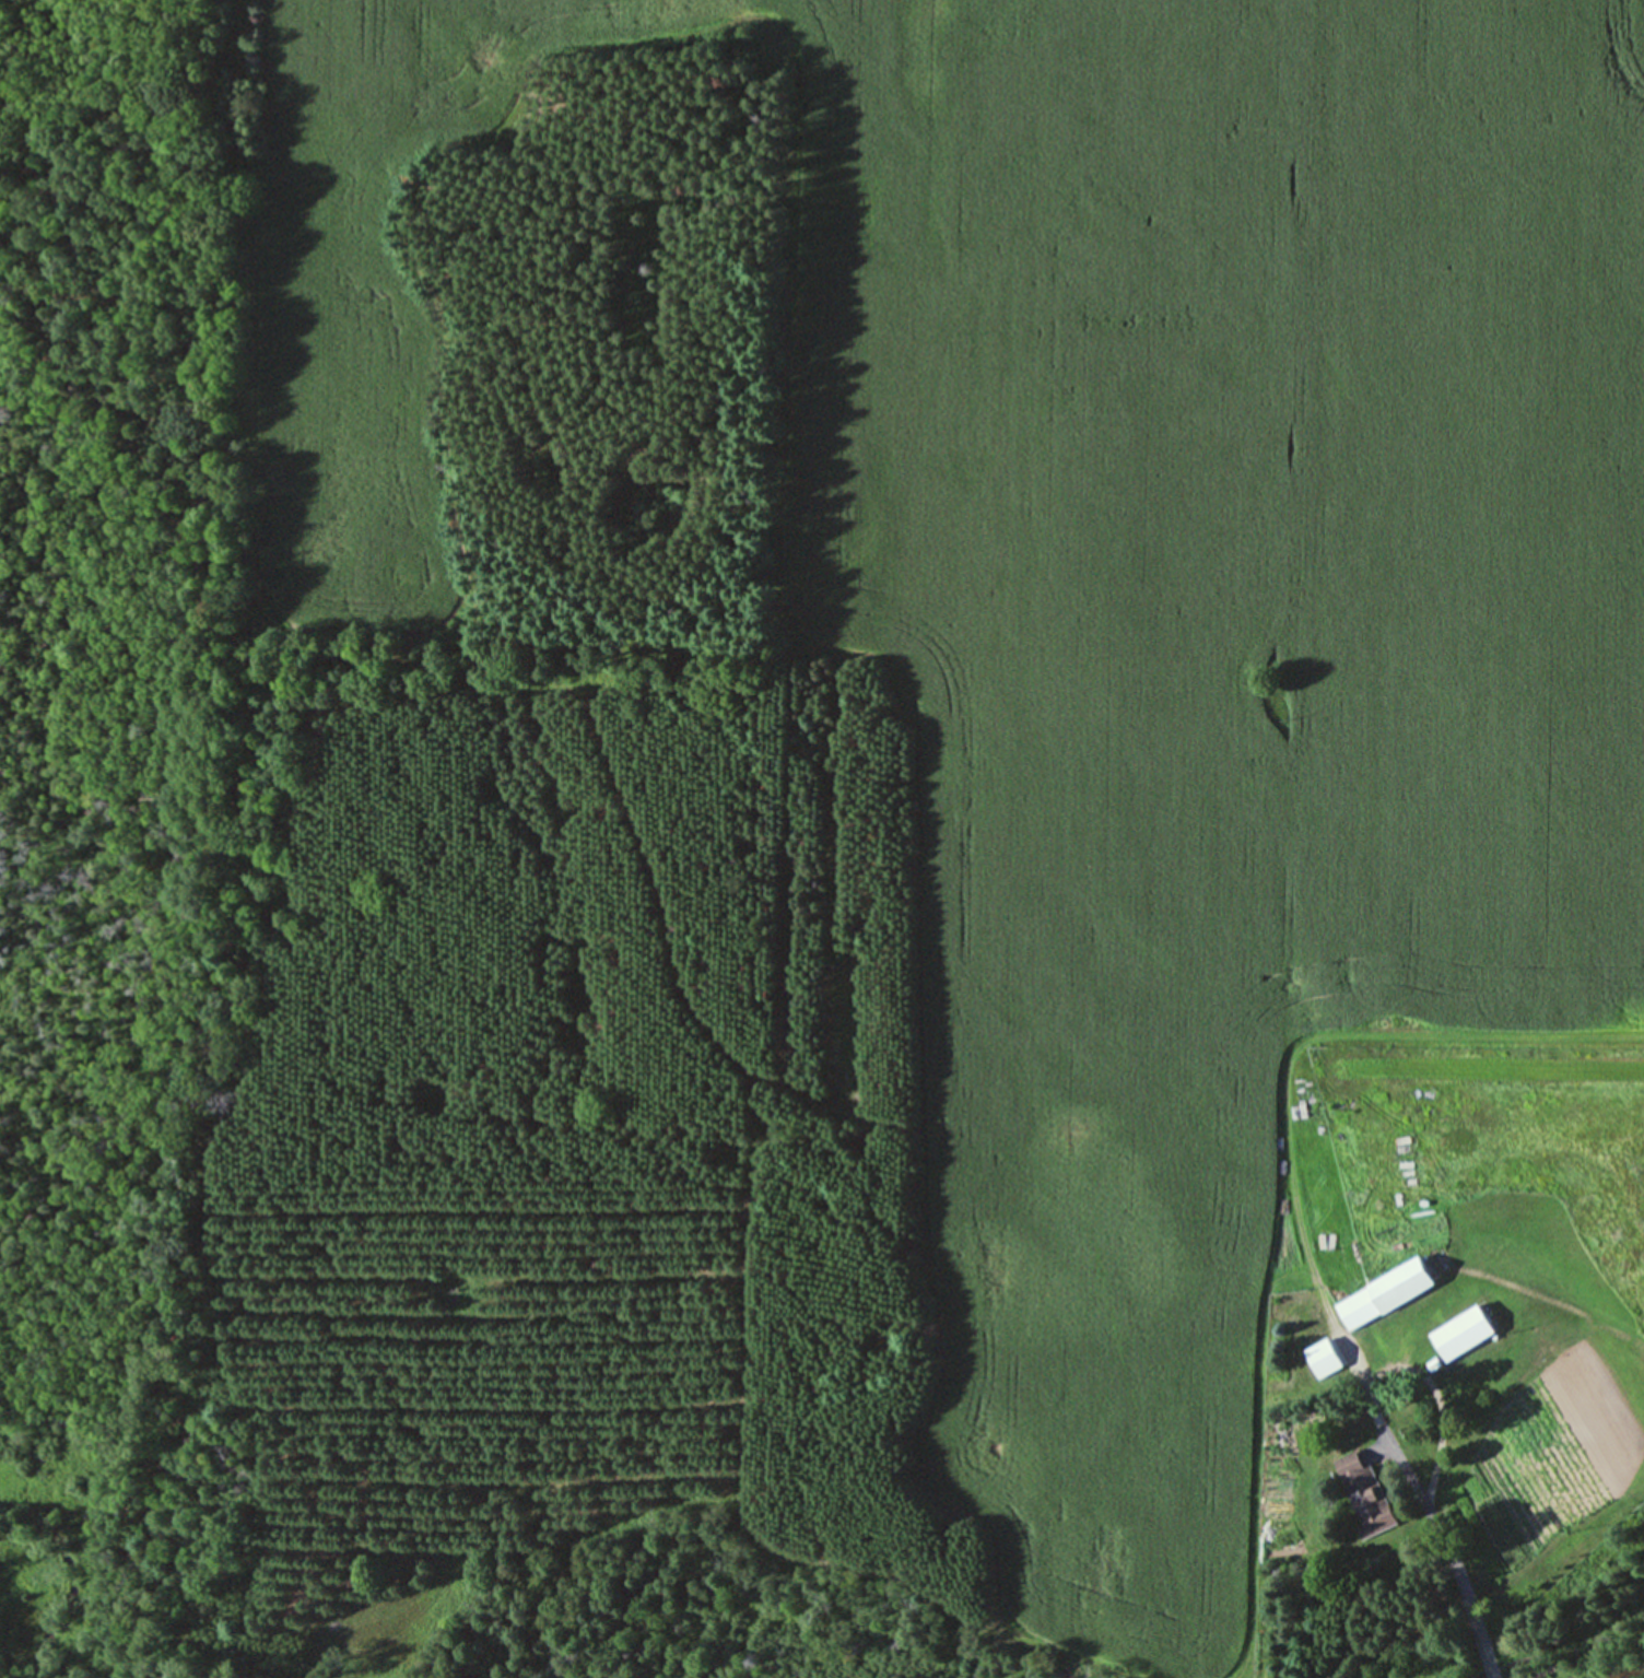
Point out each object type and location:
building: (1377, 1293)
building: (1457, 1333)
building: (1360, 1495)
road: (1435, 1544)
road: (1489, 1671)

